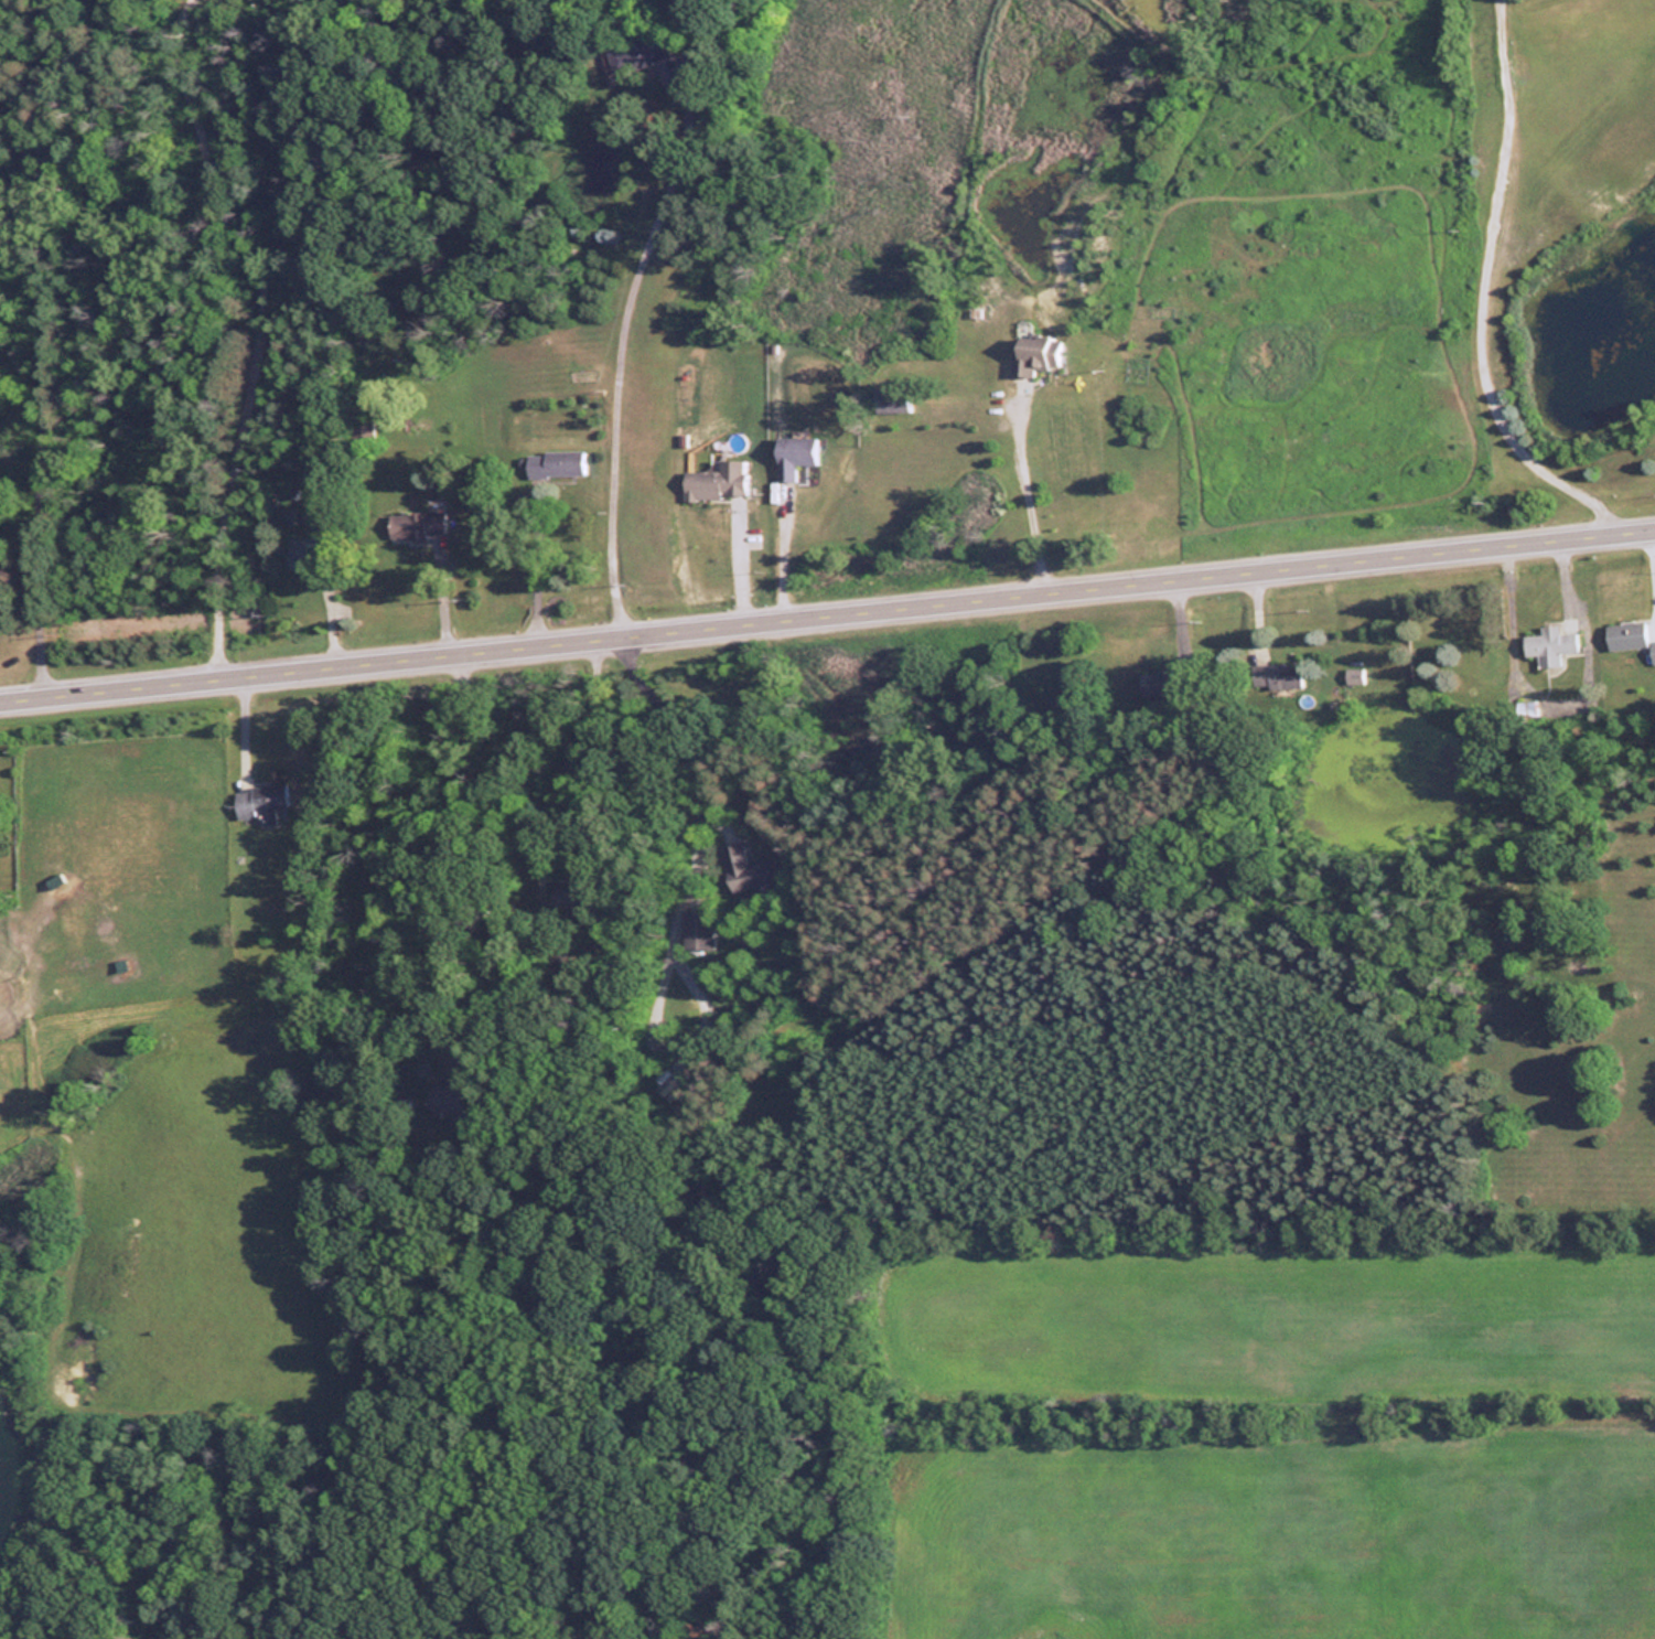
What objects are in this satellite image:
road: (1477, 291)
road: (621, 334)
building: (1032, 354)
building: (891, 399)
building: (793, 454)
building: (555, 464)
building: (716, 482)
road: (1025, 486)
building: (418, 525)
building: (302, 553)
road: (827, 606)
building: (1626, 634)
building: (1550, 645)
building: (1653, 650)
building: (1278, 675)
building: (262, 802)
building: (752, 869)
building: (698, 929)
building: (463, 1100)

